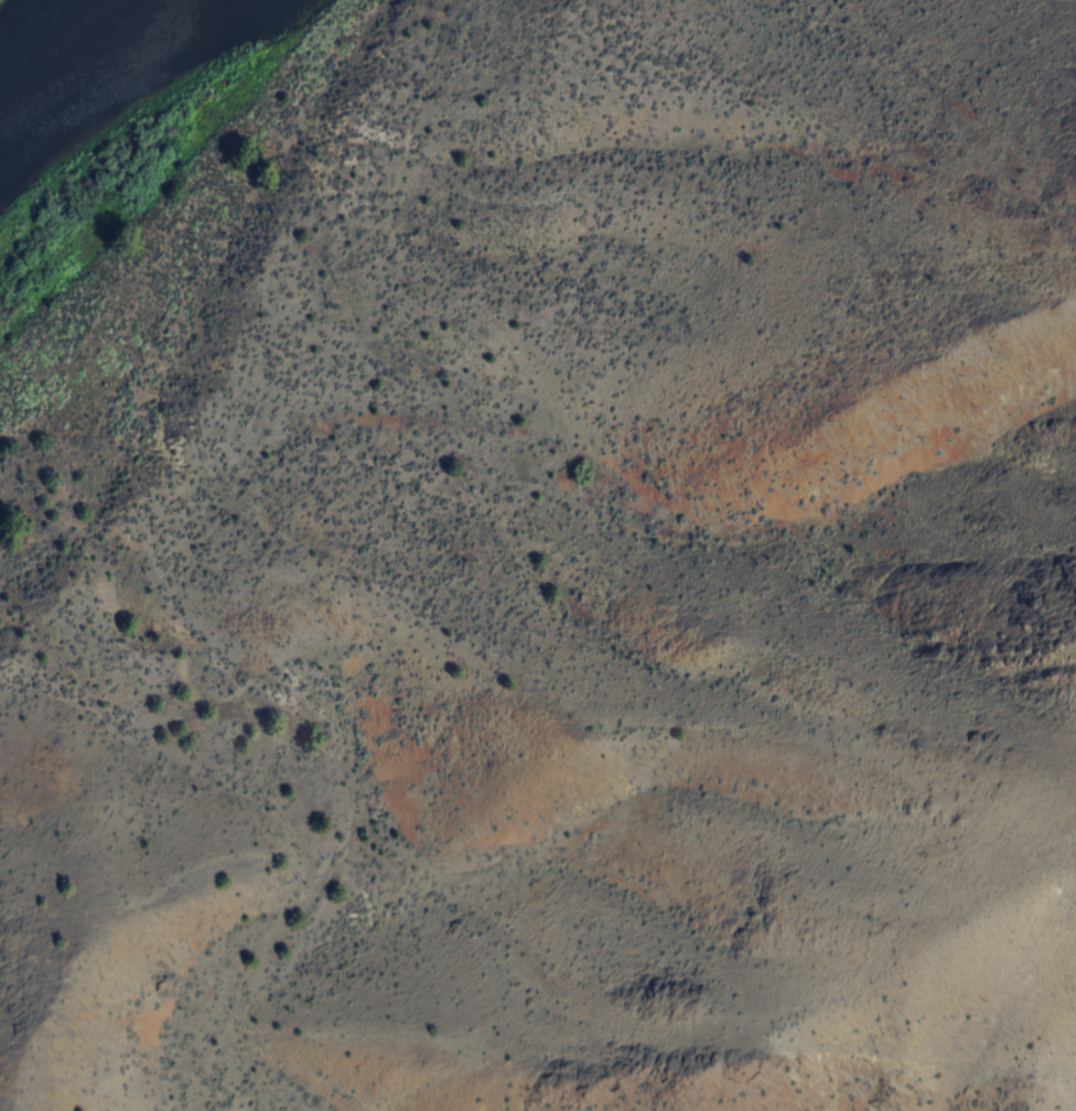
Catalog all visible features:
river: (63, 50)

